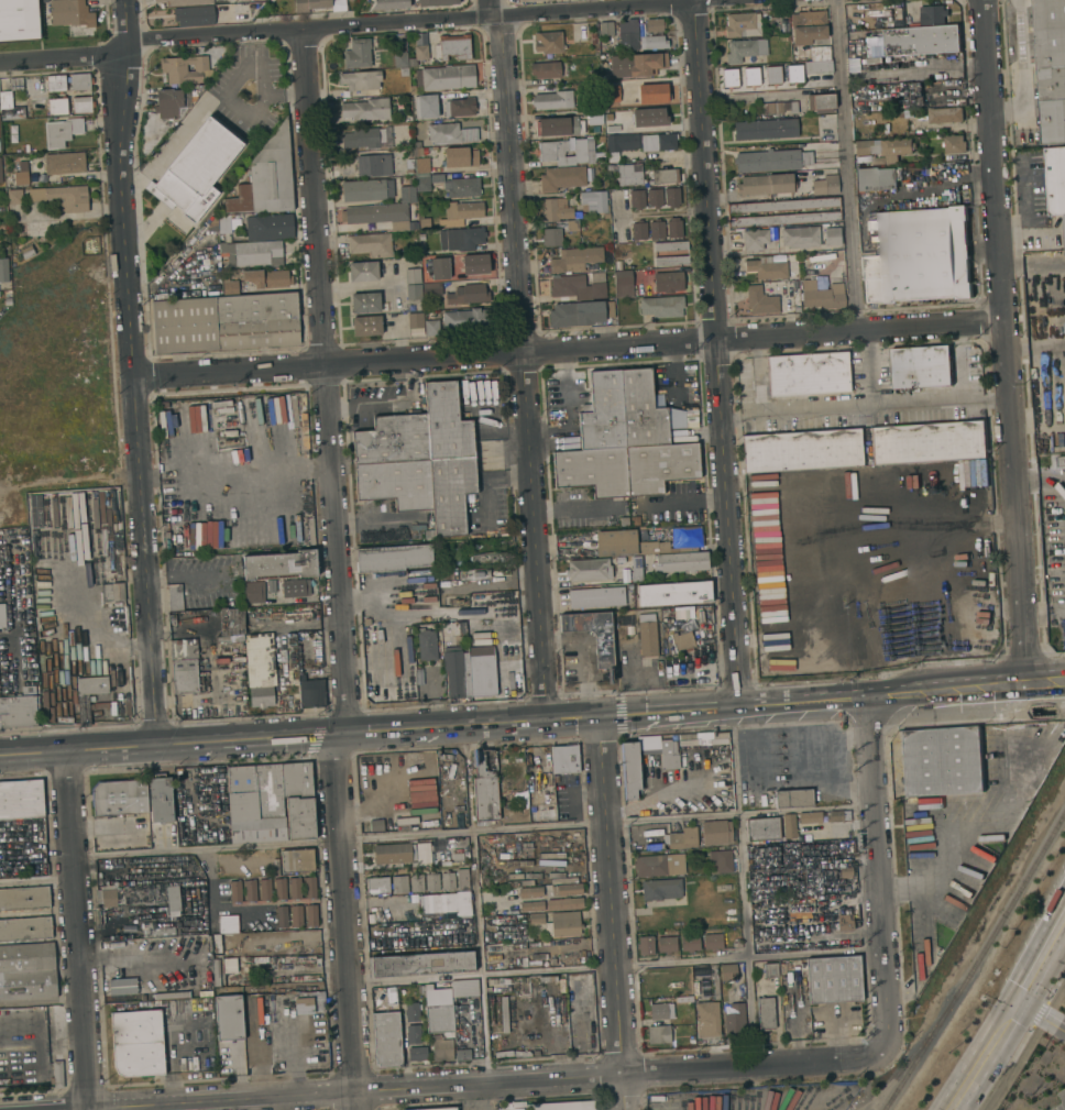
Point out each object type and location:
building: (527, 0)
building: (184, 2)
building: (436, 2)
building: (309, 4)
building: (389, 4)
building: (70, 13)
building: (933, 14)
building: (194, 17)
building: (19, 20)
road: (348, 24)
building: (654, 25)
building: (742, 25)
building: (808, 26)
building: (606, 29)
building: (627, 36)
building: (592, 37)
building: (922, 41)
building: (548, 43)
building: (652, 43)
building: (452, 47)
building: (745, 51)
building: (420, 53)
building: (820, 53)
building: (358, 54)
building: (399, 59)
building: (637, 65)
building: (817, 67)
road: (1023, 67)
building: (1051, 67)
building: (184, 69)
building: (545, 70)
building: (794, 74)
building: (772, 75)
building: (750, 77)
building: (444, 78)
building: (729, 78)
building: (360, 80)
building: (80, 83)
building: (56, 84)
building: (15, 85)
parking lot: (250, 87)
building: (654, 94)
building: (611, 95)
road: (743, 97)
building: (552, 100)
building: (168, 103)
building: (821, 103)
building: (81, 105)
building: (57, 107)
building: (425, 107)
building: (790, 107)
building: (10, 108)
building: (459, 108)
building: (768, 109)
building: (366, 110)
building: (945, 116)
building: (595, 117)
building: (650, 118)
building: (407, 119)
building: (559, 127)
building: (613, 129)
building: (765, 130)
building: (61, 132)
building: (449, 134)
building: (367, 139)
building: (641, 143)
building: (416, 144)
building: (954, 144)
building: (25, 149)
building: (886, 149)
building: (590, 151)
building: (562, 152)
building: (460, 157)
building: (771, 161)
building: (877, 161)
building: (65, 164)
building: (374, 165)
building: (408, 165)
building: (422, 165)
road: (844, 166)
building: (610, 168)
building: (0, 171)
building: (196, 171)
building: (21, 174)
building: (803, 174)
road: (509, 175)
building: (629, 175)
building: (663, 176)
building: (562, 178)
building: (266, 179)
building: (876, 179)
building: (1055, 180)
building: (427, 182)
building: (765, 185)
building: (825, 186)
building: (462, 188)
building: (366, 190)
building: (407, 194)
building: (14, 197)
building: (63, 198)
road: (314, 198)
building: (655, 198)
building: (672, 198)
building: (637, 199)
building: (595, 202)
building: (782, 206)
building: (556, 210)
building: (460, 213)
building: (380, 217)
building: (783, 219)
building: (226, 222)
building: (571, 226)
building: (270, 228)
building: (674, 228)
building: (656, 230)
building: (639, 231)
building: (800, 237)
building: (832, 237)
building: (551, 238)
building: (460, 240)
building: (754, 240)
building: (371, 244)
building: (670, 246)
building: (28, 252)
building: (256, 253)
building: (822, 256)
building: (918, 256)
building: (574, 260)
building: (670, 261)
building: (474, 264)
building: (767, 268)
building: (3, 270)
building: (439, 270)
building: (363, 272)
building: (411, 276)
building: (597, 277)
building: (267, 278)
building: (668, 282)
building: (624, 285)
building: (230, 287)
building: (430, 288)
building: (577, 288)
building: (414, 293)
building: (8, 294)
building: (468, 295)
building: (822, 296)
building: (760, 300)
building: (8, 301)
building: (364, 303)
building: (662, 307)
building: (580, 314)
building: (466, 320)
building: (415, 321)
building: (224, 323)
building: (366, 326)
building: (431, 328)
road: (1002, 343)
road: (568, 350)
road: (715, 355)
building: (922, 367)
road: (134, 373)
building: (808, 375)
road: (881, 405)
building: (624, 441)
building: (929, 442)
building: (802, 451)
building: (420, 460)
road: (257, 468)
road: (683, 499)
road: (573, 507)
building: (637, 519)
building: (625, 520)
road: (536, 537)
building: (687, 541)
building: (613, 543)
building: (563, 554)
building: (393, 558)
building: (644, 558)
building: (681, 562)
building: (281, 565)
building: (636, 569)
building: (588, 570)
road: (185, 578)
building: (271, 586)
building: (295, 587)
building: (111, 592)
building: (253, 592)
building: (673, 594)
building: (175, 597)
building: (596, 598)
building: (665, 613)
building: (2, 617)
building: (231, 622)
building: (629, 630)
building: (647, 636)
building: (403, 637)
building: (229, 639)
building: (682, 642)
building: (426, 645)
building: (603, 651)
building: (184, 667)
building: (260, 670)
building: (457, 672)
building: (482, 672)
road: (1044, 685)
building: (311, 694)
building: (84, 711)
building: (18, 712)
road: (591, 718)
building: (699, 737)
road: (339, 738)
road: (79, 751)
building: (564, 759)
building: (669, 761)
building: (942, 762)
building: (556, 779)
building: (484, 785)
building: (21, 799)
building: (120, 799)
building: (792, 799)
building: (161, 800)
building: (298, 801)
building: (268, 803)
building: (242, 804)
building: (837, 816)
building: (810, 817)
building: (376, 825)
building: (789, 827)
building: (762, 829)
building: (715, 832)
road: (473, 833)
building: (683, 838)
building: (393, 854)
building: (422, 856)
building: (457, 857)
building: (297, 861)
building: (720, 861)
building: (659, 866)
building: (845, 872)
road: (876, 875)
road: (37, 880)
building: (462, 880)
building: (448, 881)
building: (431, 882)
building: (416, 883)
building: (399, 884)
building: (376, 886)
road: (743, 887)
building: (309, 888)
building: (279, 889)
building: (294, 889)
building: (660, 889)
building: (264, 890)
building: (566, 890)
building: (234, 891)
building: (250, 891)
building: (530, 892)
building: (153, 895)
building: (108, 898)
building: (24, 899)
building: (446, 903)
building: (564, 903)
road: (476, 904)
building: (530, 906)
road: (611, 913)
building: (310, 915)
building: (296, 916)
building: (281, 917)
building: (536, 919)
building: (228, 924)
building: (563, 925)
building: (844, 926)
building: (25, 928)
road: (78, 931)
building: (712, 942)
building: (689, 943)
building: (667, 945)
building: (645, 946)
road: (1039, 954)
railway: (974, 955)
building: (301, 959)
building: (421, 964)
building: (230, 966)
road: (616, 966)
building: (770, 970)
building: (28, 971)
building: (216, 972)
building: (727, 972)
building: (832, 979)
building: (464, 988)
building: (419, 989)
building: (118, 990)
building: (29, 1003)
building: (304, 1005)
building: (706, 1007)
building: (658, 1011)
building: (411, 1012)
building: (765, 1013)
road: (1037, 1016)
building: (229, 1019)
building: (440, 1019)
building: (735, 1020)
building: (387, 1034)
building: (413, 1034)
building: (658, 1034)
building: (136, 1043)
building: (441, 1049)
building: (417, 1054)
building: (462, 1055)
road: (979, 1055)
building: (56, 1075)
road: (486, 1084)
building: (563, 1106)
parking lot: (1058, 1106)
building: (449, 1109)

